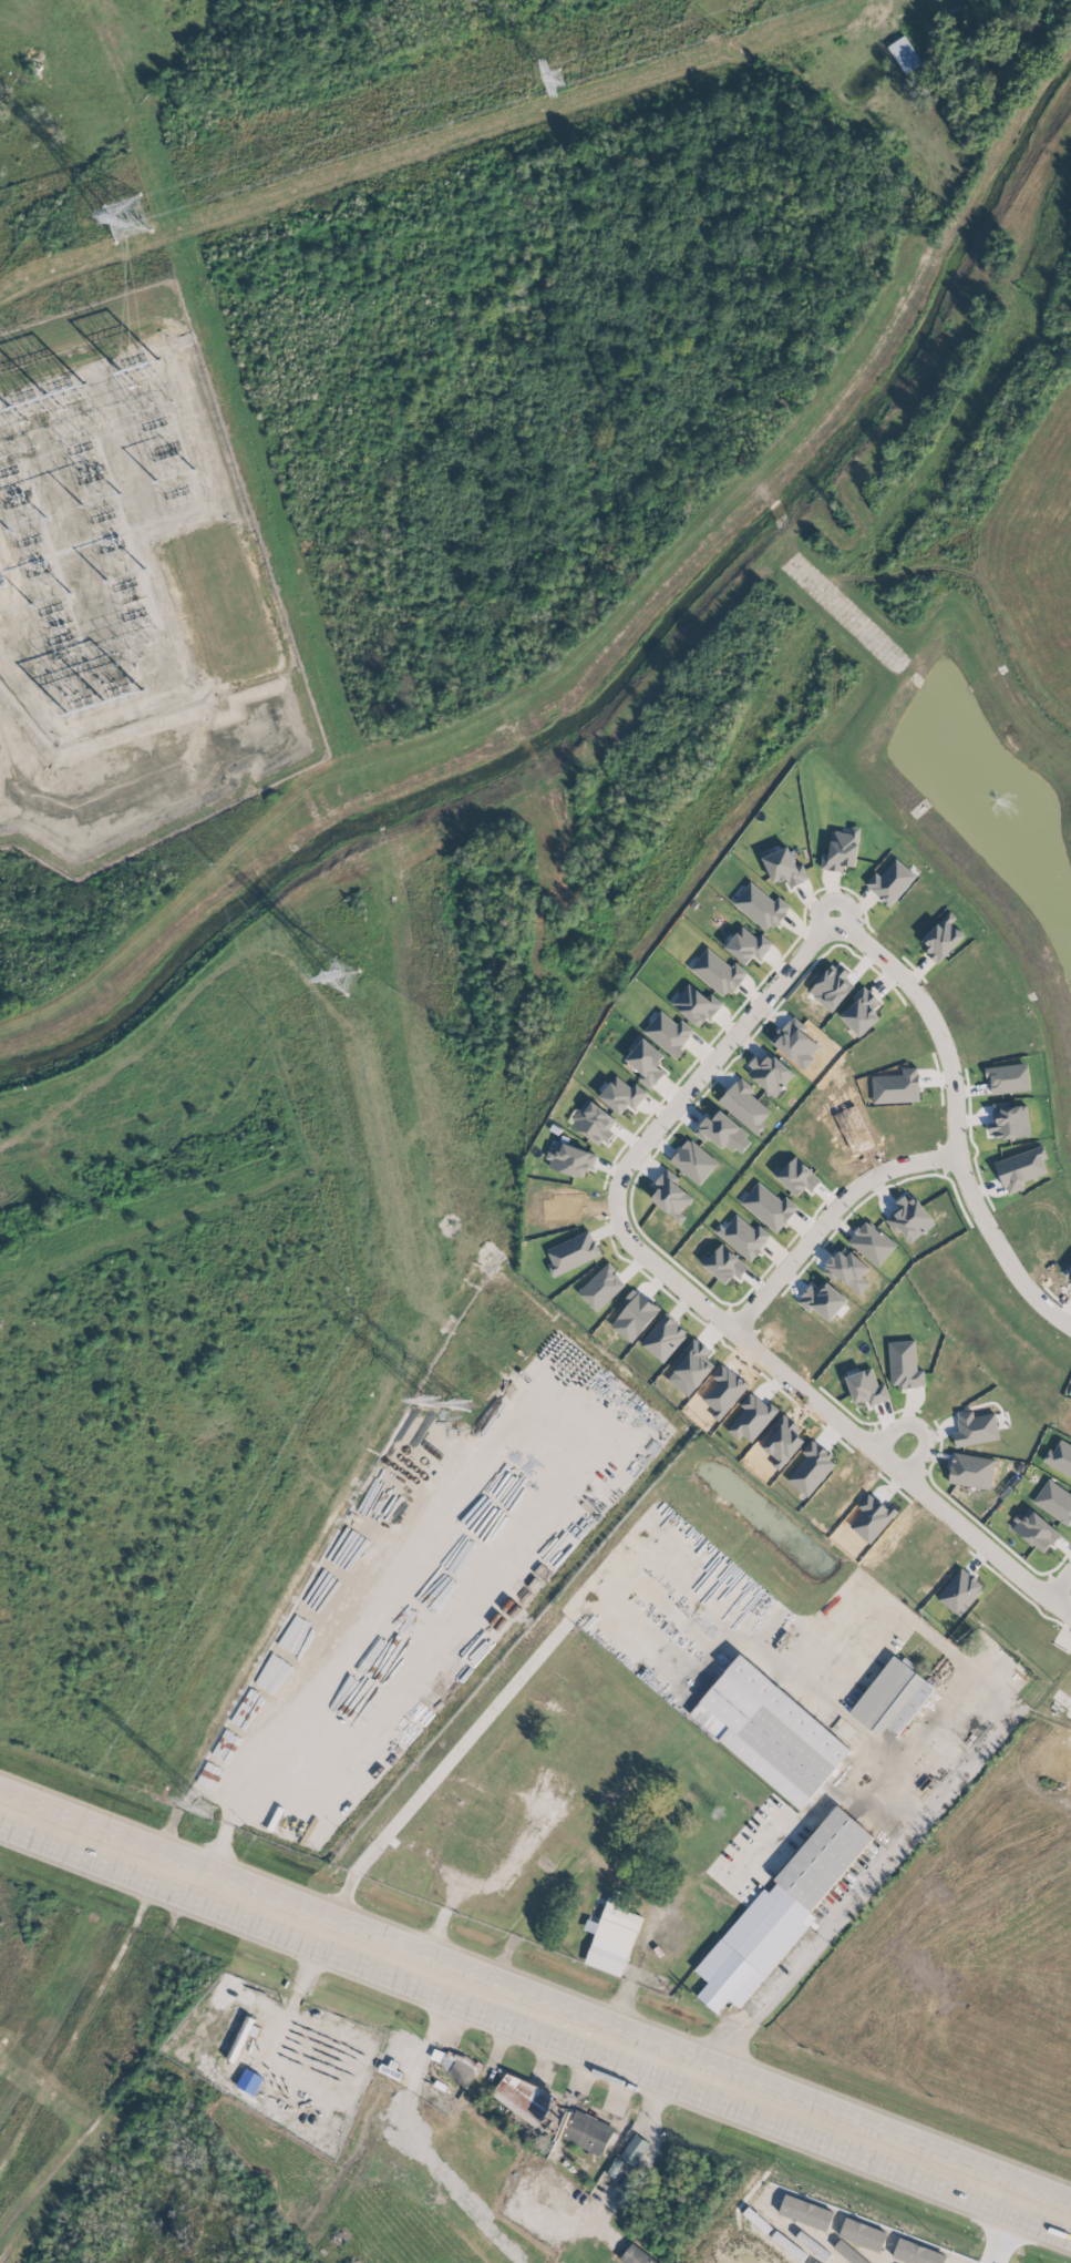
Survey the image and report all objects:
building: (904, 54)
power tower: (555, 76)
power tower: (126, 221)
building: (1, 578)
power substation: (130, 593)
building: (841, 850)
building: (784, 868)
building: (889, 882)
road: (835, 899)
building: (761, 907)
building: (940, 938)
building: (748, 945)
building: (718, 972)
power tower: (340, 974)
building: (696, 1005)
building: (861, 1012)
building: (669, 1033)
road: (713, 1059)
building: (646, 1062)
building: (770, 1073)
building: (1008, 1077)
building: (896, 1087)
building: (621, 1095)
building: (744, 1106)
building: (594, 1122)
building: (1006, 1122)
road: (955, 1127)
building: (570, 1160)
building: (1020, 1168)
building: (797, 1176)
building: (671, 1195)
building: (768, 1207)
road: (827, 1218)
building: (909, 1218)
building: (743, 1236)
building: (872, 1242)
building: (571, 1252)
building: (724, 1264)
building: (663, 1338)
building: (903, 1364)
building: (866, 1388)
power tower: (442, 1402)
road: (528, 1409)
road: (831, 1415)
road: (918, 1427)
building: (975, 1429)
building: (1058, 1455)
building: (811, 1468)
building: (970, 1471)
building: (1054, 1502)
road: (635, 1548)
road: (1060, 1584)
building: (890, 1698)
road: (847, 1724)
road: (923, 1730)
building: (769, 1731)
road: (817, 1799)
power tower: (205, 1808)
road: (467, 1888)
road: (855, 1895)
building: (779, 1912)
building: (619, 1917)
building: (606, 1957)
road: (294, 1997)
road: (536, 2014)
building: (447, 2064)
building: (248, 2081)
building: (523, 2097)
road: (652, 2127)
building: (587, 2132)
building: (634, 2150)
road: (995, 2230)
building: (635, 2255)

